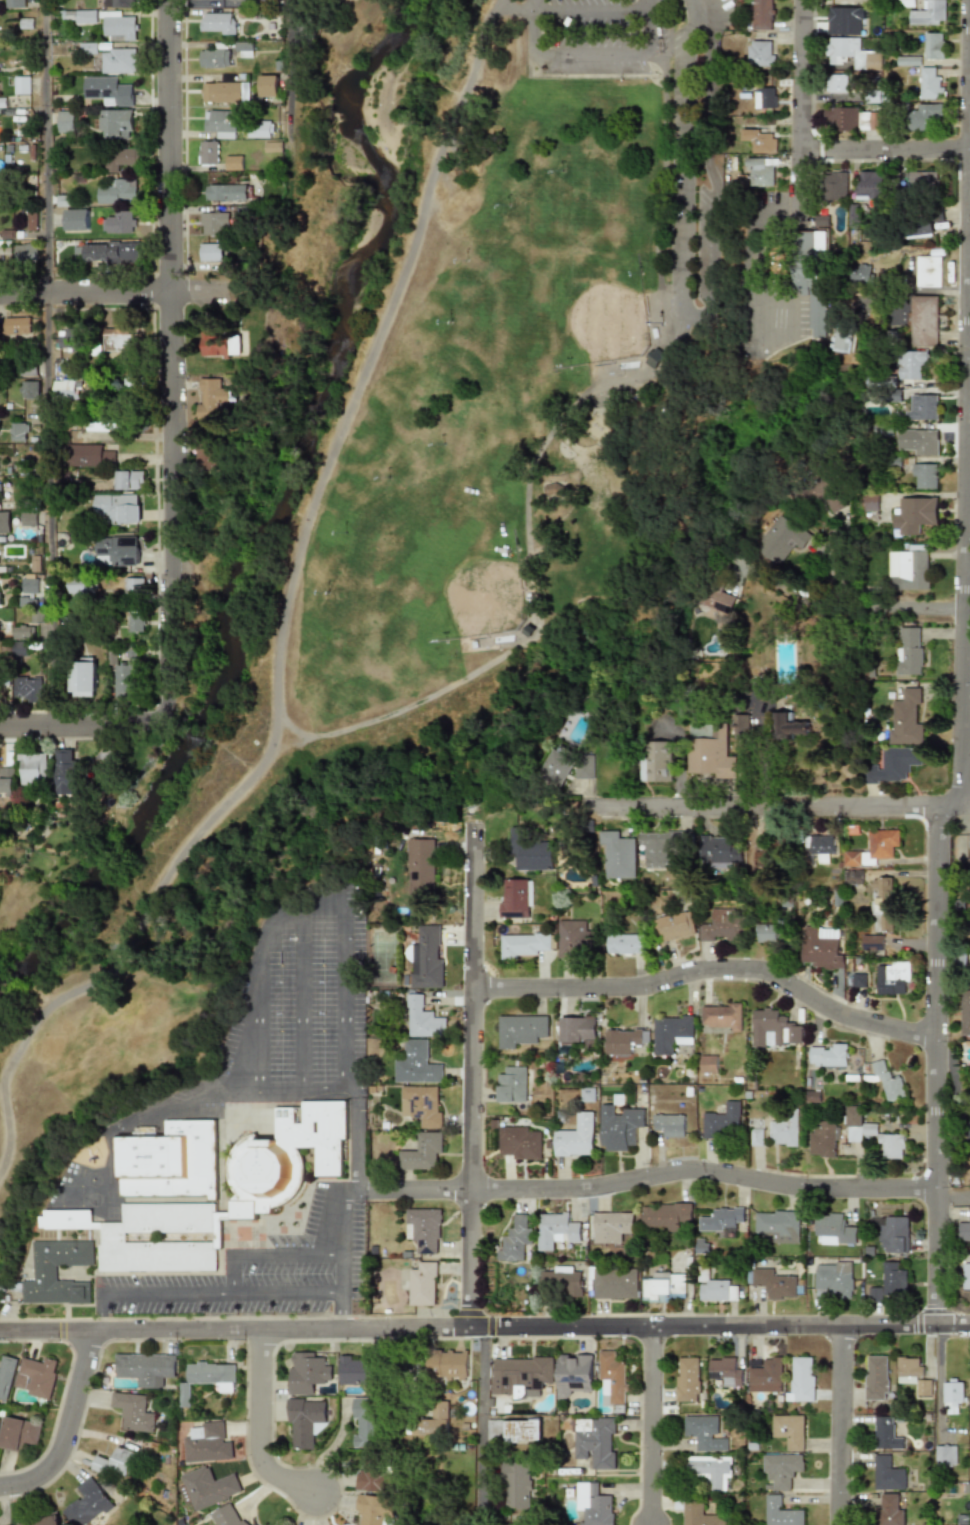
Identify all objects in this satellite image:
building: (14, 4)
building: (119, 4)
road: (695, 8)
road: (569, 12)
building: (928, 13)
building: (761, 15)
building: (79, 17)
building: (843, 21)
building: (219, 24)
building: (118, 27)
parking lot: (594, 36)
building: (933, 46)
building: (245, 49)
building: (840, 50)
building: (761, 53)
building: (217, 55)
road: (588, 55)
building: (118, 60)
building: (872, 61)
building: (838, 83)
building: (931, 84)
building: (21, 85)
building: (271, 85)
road: (294, 85)
building: (108, 90)
building: (227, 92)
building: (763, 98)
road: (802, 104)
building: (924, 116)
building: (851, 118)
building: (65, 121)
building: (223, 123)
building: (117, 124)
building: (265, 130)
building: (760, 140)
road: (886, 151)
building: (210, 153)
building: (123, 159)
building: (237, 163)
building: (761, 172)
building: (923, 180)
building: (872, 184)
building: (835, 185)
building: (116, 191)
building: (227, 192)
building: (31, 219)
building: (76, 220)
building: (822, 221)
building: (919, 221)
building: (118, 222)
building: (216, 223)
building: (25, 252)
building: (107, 252)
building: (213, 252)
building: (777, 259)
building: (926, 271)
building: (859, 273)
building: (814, 277)
road: (116, 293)
road: (690, 311)
building: (923, 321)
building: (16, 326)
building: (70, 337)
building: (119, 338)
building: (844, 342)
building: (221, 344)
building: (654, 358)
road: (172, 361)
road: (45, 363)
building: (911, 363)
building: (27, 369)
building: (63, 369)
building: (129, 382)
building: (29, 390)
building: (67, 390)
building: (212, 397)
building: (922, 407)
building: (102, 423)
building: (17, 432)
park: (464, 432)
building: (918, 442)
building: (90, 455)
building: (204, 457)
building: (924, 475)
building: (129, 480)
building: (0, 487)
building: (826, 494)
building: (871, 502)
building: (118, 508)
building: (914, 515)
river: (273, 516)
building: (28, 517)
building: (4, 524)
road: (965, 527)
building: (783, 540)
building: (116, 550)
building: (909, 571)
building: (30, 586)
building: (80, 586)
building: (133, 587)
road: (879, 606)
road: (282, 615)
building: (133, 623)
building: (21, 630)
building: (17, 649)
building: (911, 652)
building: (81, 678)
building: (122, 681)
building: (26, 688)
building: (909, 719)
building: (794, 725)
road: (80, 726)
building: (747, 727)
road: (959, 741)
building: (715, 753)
building: (665, 762)
building: (897, 766)
building: (560, 767)
building: (31, 769)
building: (587, 769)
building: (67, 771)
building: (6, 781)
road: (773, 800)
building: (886, 844)
building: (665, 846)
building: (826, 848)
building: (531, 851)
building: (722, 852)
building: (621, 856)
building: (855, 859)
building: (871, 860)
building: (420, 865)
building: (858, 877)
building: (515, 898)
building: (886, 905)
building: (676, 925)
building: (724, 925)
building: (773, 933)
building: (572, 937)
building: (876, 943)
building: (522, 944)
building: (626, 944)
building: (824, 948)
building: (427, 957)
road: (711, 968)
building: (895, 979)
building: (861, 981)
road: (299, 999)
building: (966, 1013)
building: (723, 1016)
building: (418, 1017)
building: (576, 1029)
building: (776, 1029)
building: (520, 1031)
building: (672, 1032)
road: (257, 1035)
building: (624, 1043)
building: (831, 1055)
building: (417, 1063)
building: (710, 1064)
road: (471, 1076)
building: (889, 1081)
building: (513, 1084)
building: (815, 1096)
building: (422, 1104)
building: (723, 1119)
building: (670, 1125)
building: (622, 1127)
building: (787, 1131)
building: (874, 1133)
building: (578, 1137)
building: (758, 1137)
building: (825, 1139)
building: (521, 1142)
building: (422, 1152)
building: (284, 1156)
building: (174, 1159)
road: (701, 1171)
road: (413, 1185)
road: (952, 1196)
building: (665, 1216)
building: (722, 1219)
building: (777, 1225)
building: (560, 1227)
building: (614, 1228)
building: (423, 1230)
building: (834, 1230)
building: (964, 1230)
building: (893, 1234)
building: (118, 1237)
building: (516, 1240)
road: (266, 1256)
building: (48, 1272)
building: (967, 1275)
building: (832, 1280)
building: (562, 1281)
building: (615, 1283)
building: (887, 1283)
building: (421, 1284)
building: (773, 1284)
building: (663, 1286)
building: (714, 1288)
road: (201, 1294)
road: (339, 1311)
road: (484, 1328)
building: (447, 1365)
building: (146, 1368)
building: (357, 1369)
building: (306, 1371)
building: (724, 1371)
building: (521, 1374)
building: (573, 1374)
building: (912, 1374)
building: (765, 1375)
building: (37, 1376)
building: (6, 1377)
building: (209, 1377)
building: (876, 1377)
building: (612, 1379)
building: (687, 1379)
building: (801, 1379)
road: (937, 1379)
building: (969, 1382)
building: (952, 1396)
building: (132, 1411)
road: (480, 1415)
building: (434, 1421)
building: (304, 1422)
building: (366, 1422)
road: (841, 1425)
road: (651, 1426)
road: (260, 1428)
road: (69, 1429)
building: (520, 1430)
building: (789, 1431)
building: (703, 1433)
building: (886, 1433)
building: (18, 1434)
building: (595, 1441)
building: (207, 1443)
building: (944, 1456)
building: (116, 1461)
building: (782, 1469)
building: (710, 1471)
building: (887, 1472)
building: (371, 1475)
building: (517, 1485)
building: (207, 1488)
building: (88, 1503)
building: (593, 1505)
building: (375, 1509)
building: (889, 1509)
building: (697, 1512)
building: (782, 1512)
building: (227, 1517)
building: (46, 1521)

